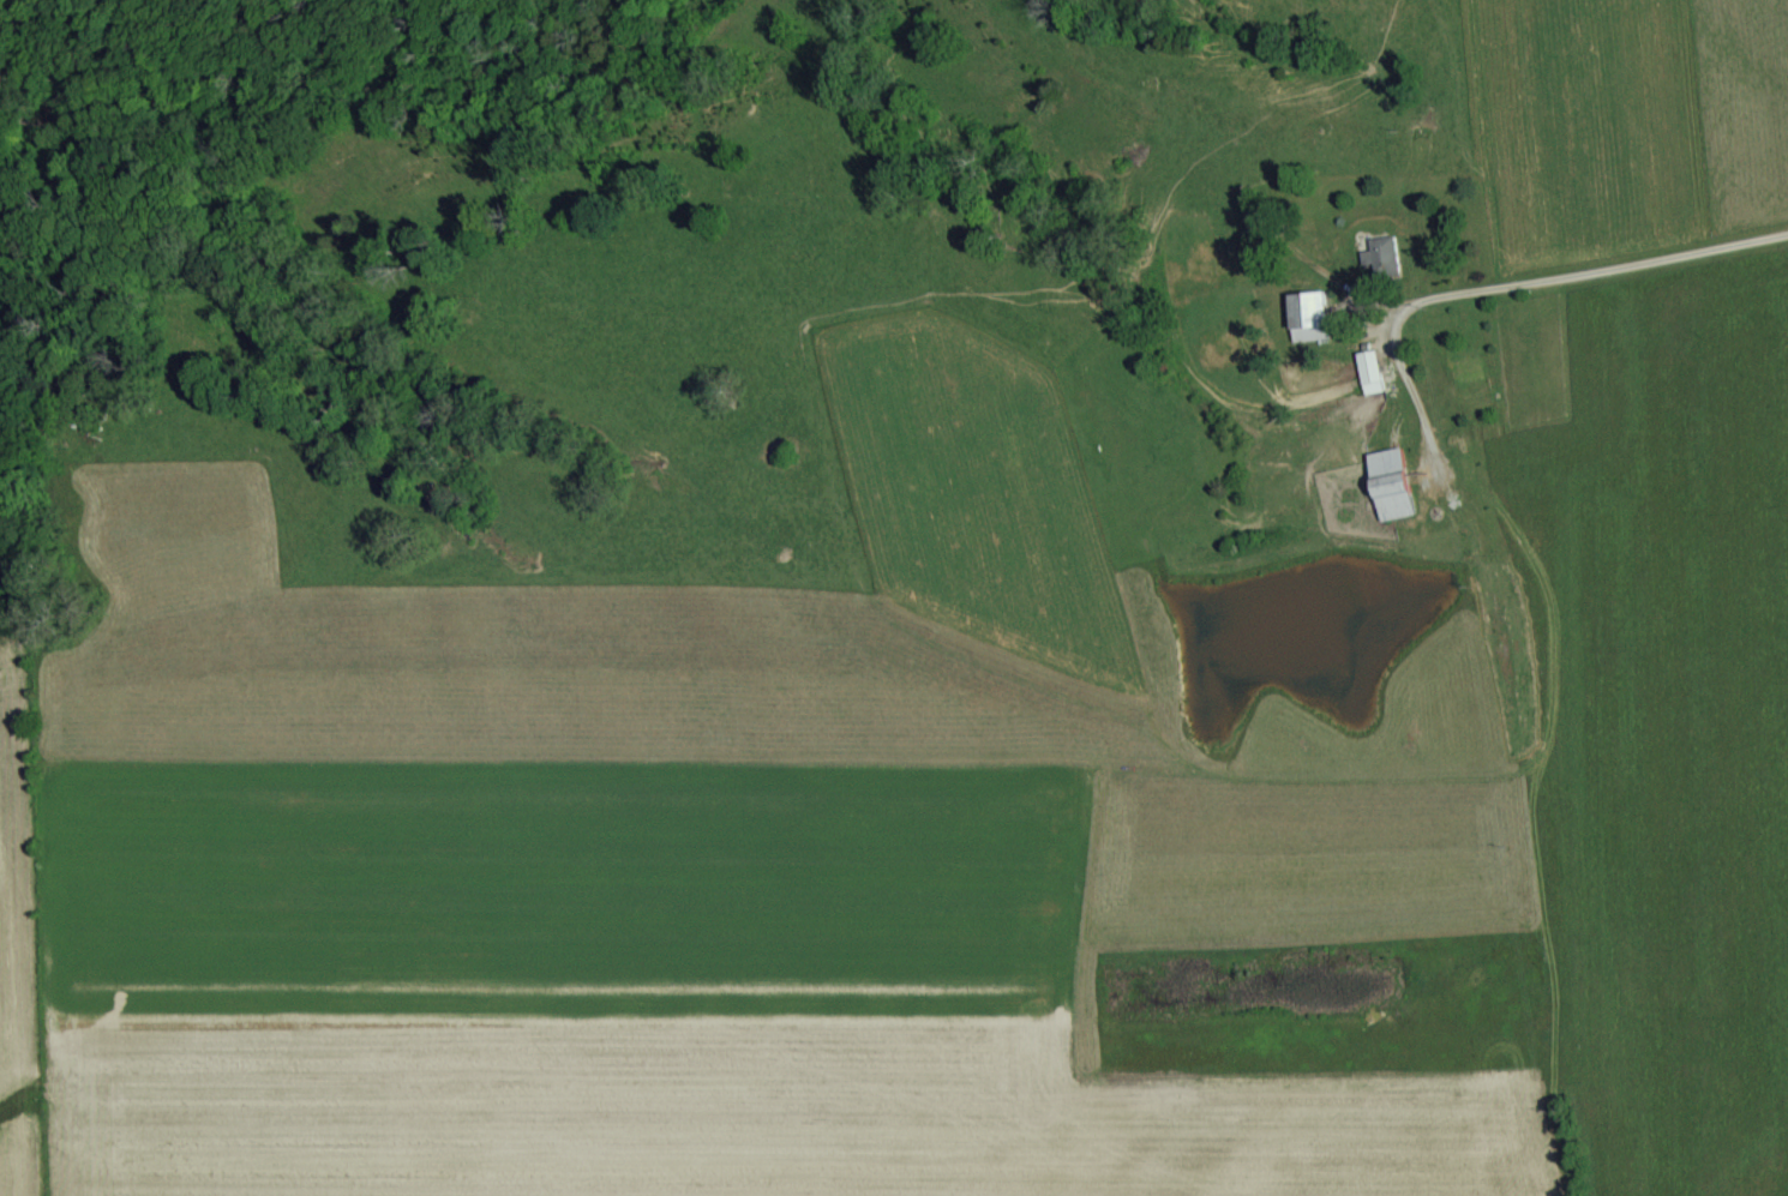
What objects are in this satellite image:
building: (1379, 258)
road: (1589, 275)
building: (1304, 318)
building: (1367, 374)
road: (1408, 385)
building: (1387, 486)
crop: (982, 654)

